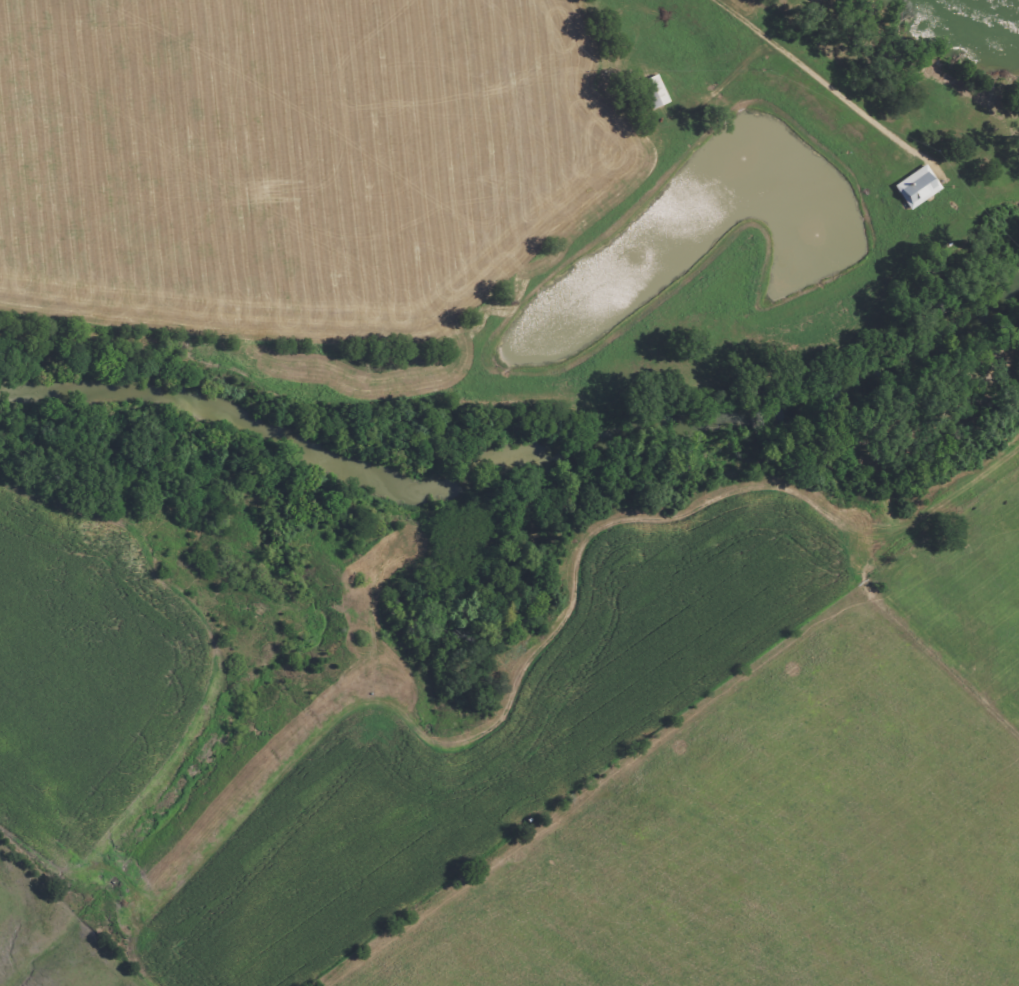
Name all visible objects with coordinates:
building: (651, 91)
building: (915, 187)

